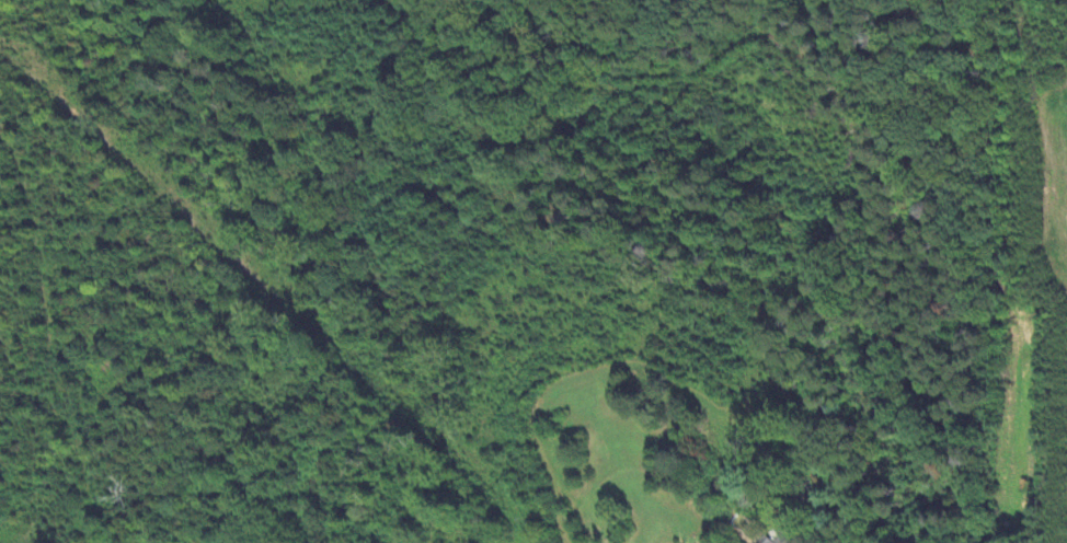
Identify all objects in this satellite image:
building: (772, 540)
building: (788, 540)

